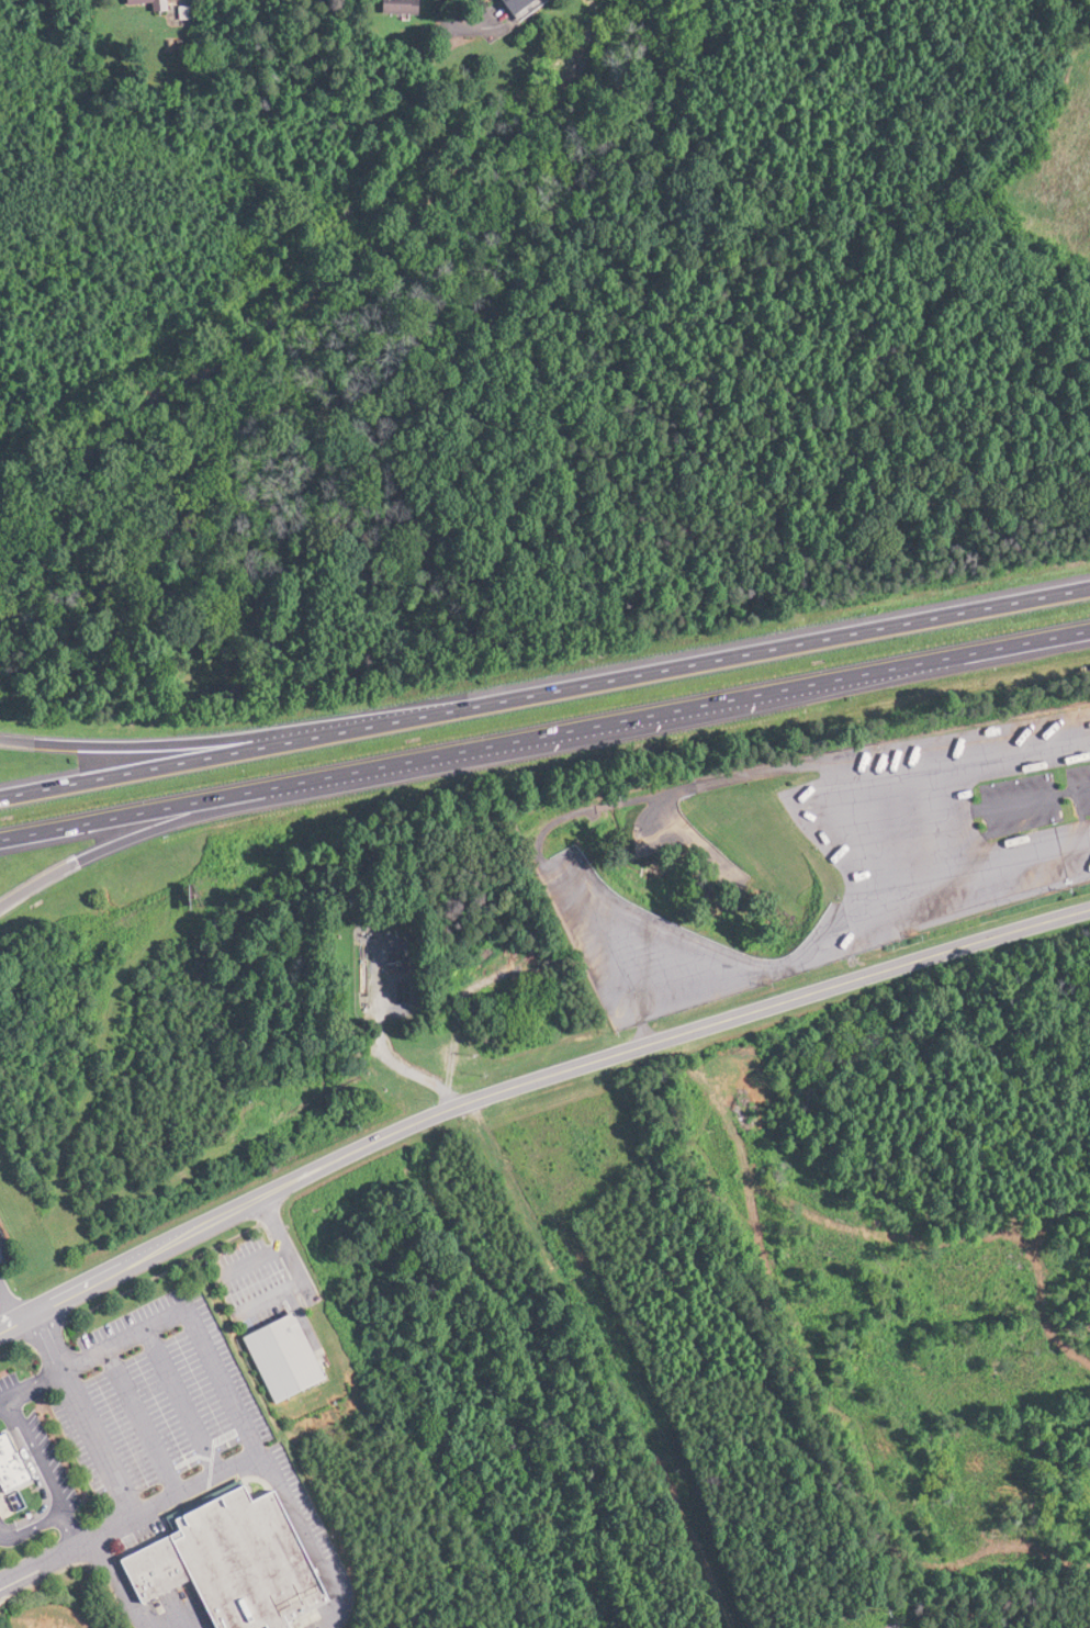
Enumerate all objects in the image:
building: (141, 3)
building: (504, 5)
building: (387, 7)
road: (544, 692)
road: (544, 734)
road: (138, 745)
road: (971, 768)
road: (154, 830)
road: (1021, 853)
wastewater plant: (395, 952)
road: (779, 968)
road: (532, 1085)
road: (285, 1244)
road: (251, 1257)
road: (271, 1295)
road: (45, 1339)
building: (271, 1356)
road: (610, 1362)
road: (179, 1400)
road: (237, 1415)
road: (139, 1421)
road: (98, 1442)
road: (35, 1455)
building: (8, 1467)
road: (33, 1527)
road: (69, 1527)
road: (1, 1537)
road: (306, 1537)
building: (227, 1561)
road: (117, 1584)
road: (884, 1626)
road: (890, 1626)

